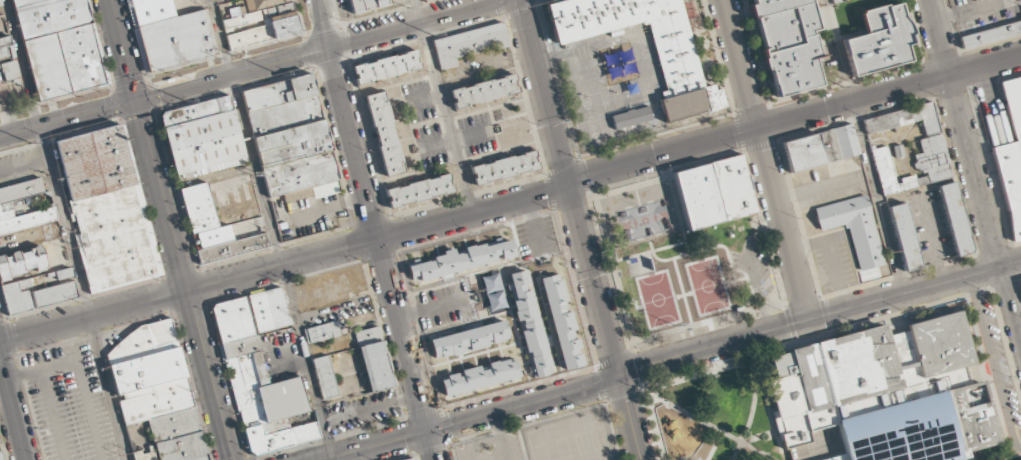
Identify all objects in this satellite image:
road: (536, 1)
building: (23, 2)
building: (380, 3)
building: (260, 4)
building: (368, 4)
building: (0, 5)
building: (356, 6)
road: (500, 8)
road: (520, 9)
building: (151, 10)
road: (383, 11)
parking lot: (983, 14)
building: (51, 17)
road: (322, 23)
road: (415, 24)
building: (259, 25)
road: (322, 28)
building: (990, 34)
building: (176, 40)
building: (878, 40)
building: (467, 44)
building: (787, 44)
building: (5, 48)
road: (227, 54)
building: (65, 62)
building: (676, 64)
building: (385, 67)
building: (9, 70)
road: (129, 80)
railway: (177, 85)
railway: (159, 88)
building: (483, 91)
road: (164, 92)
building: (278, 93)
road: (55, 100)
traffic signals: (137, 100)
road: (445, 106)
building: (285, 116)
building: (631, 117)
building: (383, 134)
building: (202, 138)
building: (292, 144)
building: (933, 147)
building: (819, 148)
building: (1011, 155)
road: (765, 160)
building: (92, 163)
building: (503, 168)
building: (300, 173)
road: (973, 173)
road: (569, 188)
building: (20, 190)
building: (418, 191)
building: (732, 191)
road: (878, 197)
building: (697, 200)
road: (512, 202)
building: (5, 211)
building: (955, 219)
building: (27, 220)
building: (854, 227)
building: (214, 228)
road: (271, 229)
road: (68, 230)
road: (170, 230)
building: (905, 236)
building: (112, 238)
road: (378, 240)
building: (461, 259)
building: (22, 263)
park: (696, 288)
building: (55, 294)
building: (18, 297)
building: (268, 310)
road: (819, 316)
building: (560, 321)
building: (530, 323)
building: (322, 332)
building: (469, 339)
building: (374, 359)
building: (325, 377)
building: (478, 378)
building: (258, 386)
building: (155, 389)
building: (800, 395)
parking lot: (64, 399)
road: (13, 410)
road: (629, 418)
park: (716, 418)
road: (475, 420)
building: (903, 431)
road: (432, 446)
parking lot: (489, 448)
building: (1, 454)
building: (143, 456)
building: (408, 459)
building: (411, 459)

